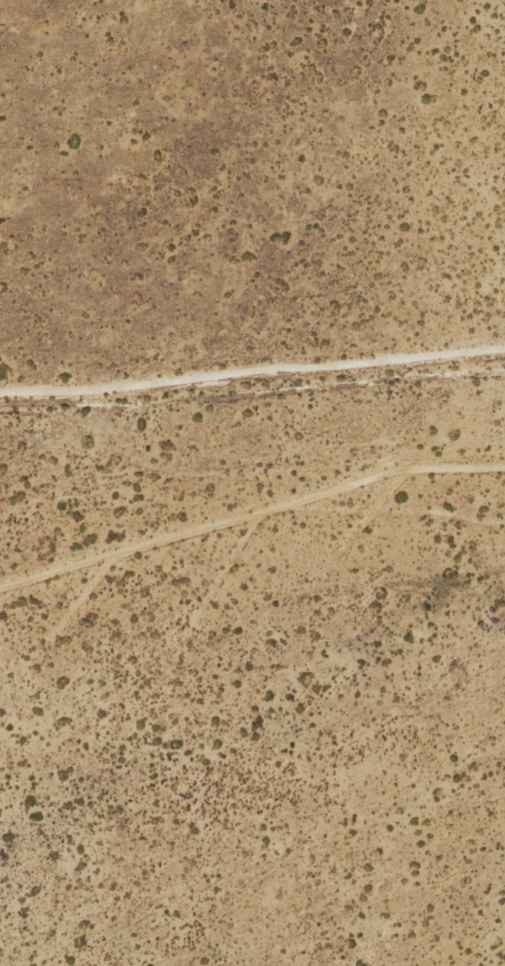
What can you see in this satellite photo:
road: (252, 364)

